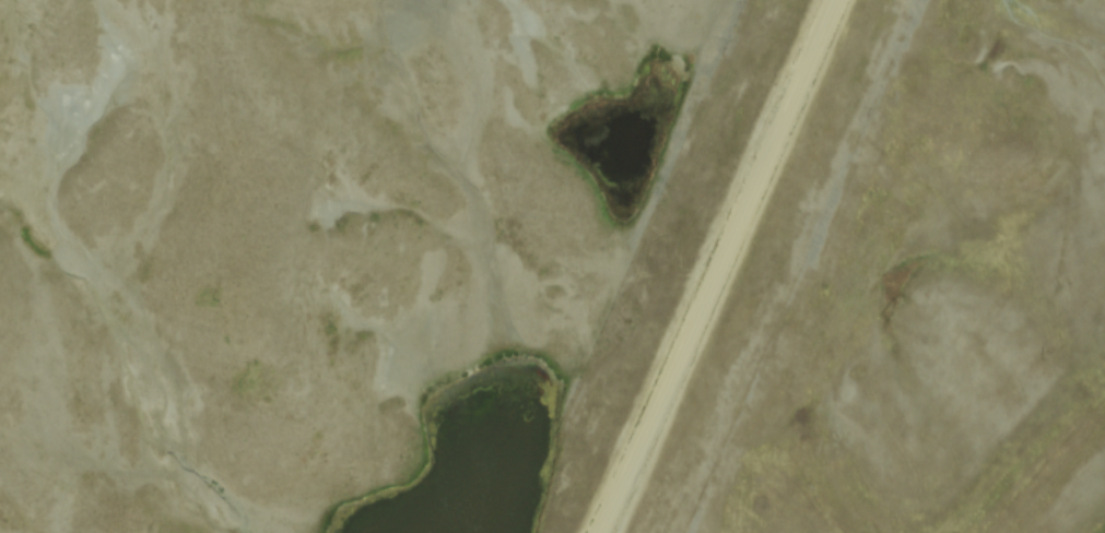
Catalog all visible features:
road: (712, 266)

